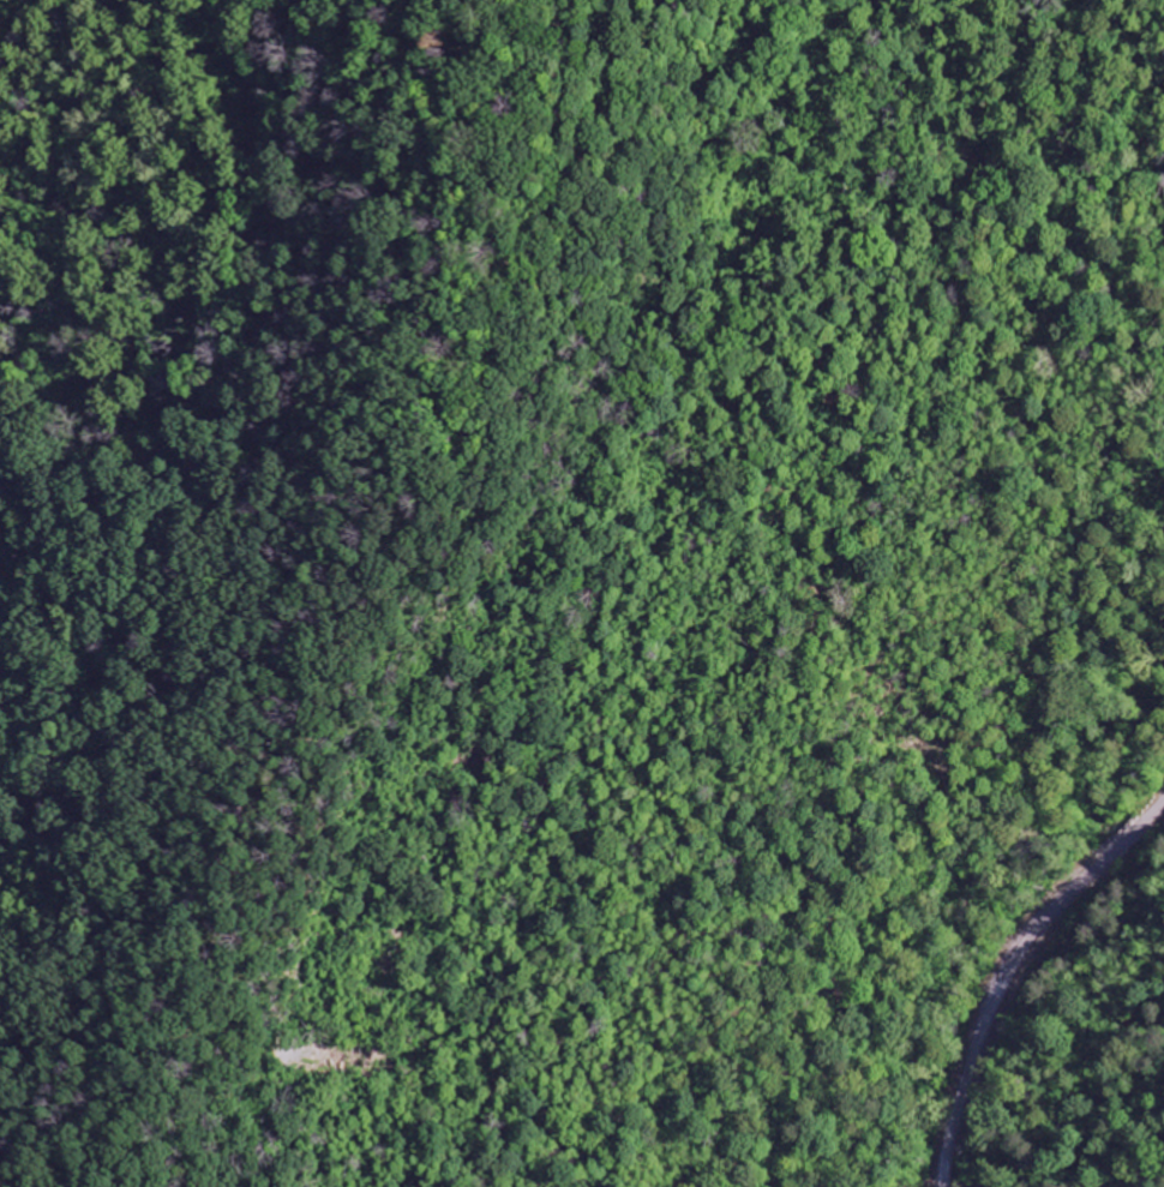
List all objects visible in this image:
road: (1004, 964)

